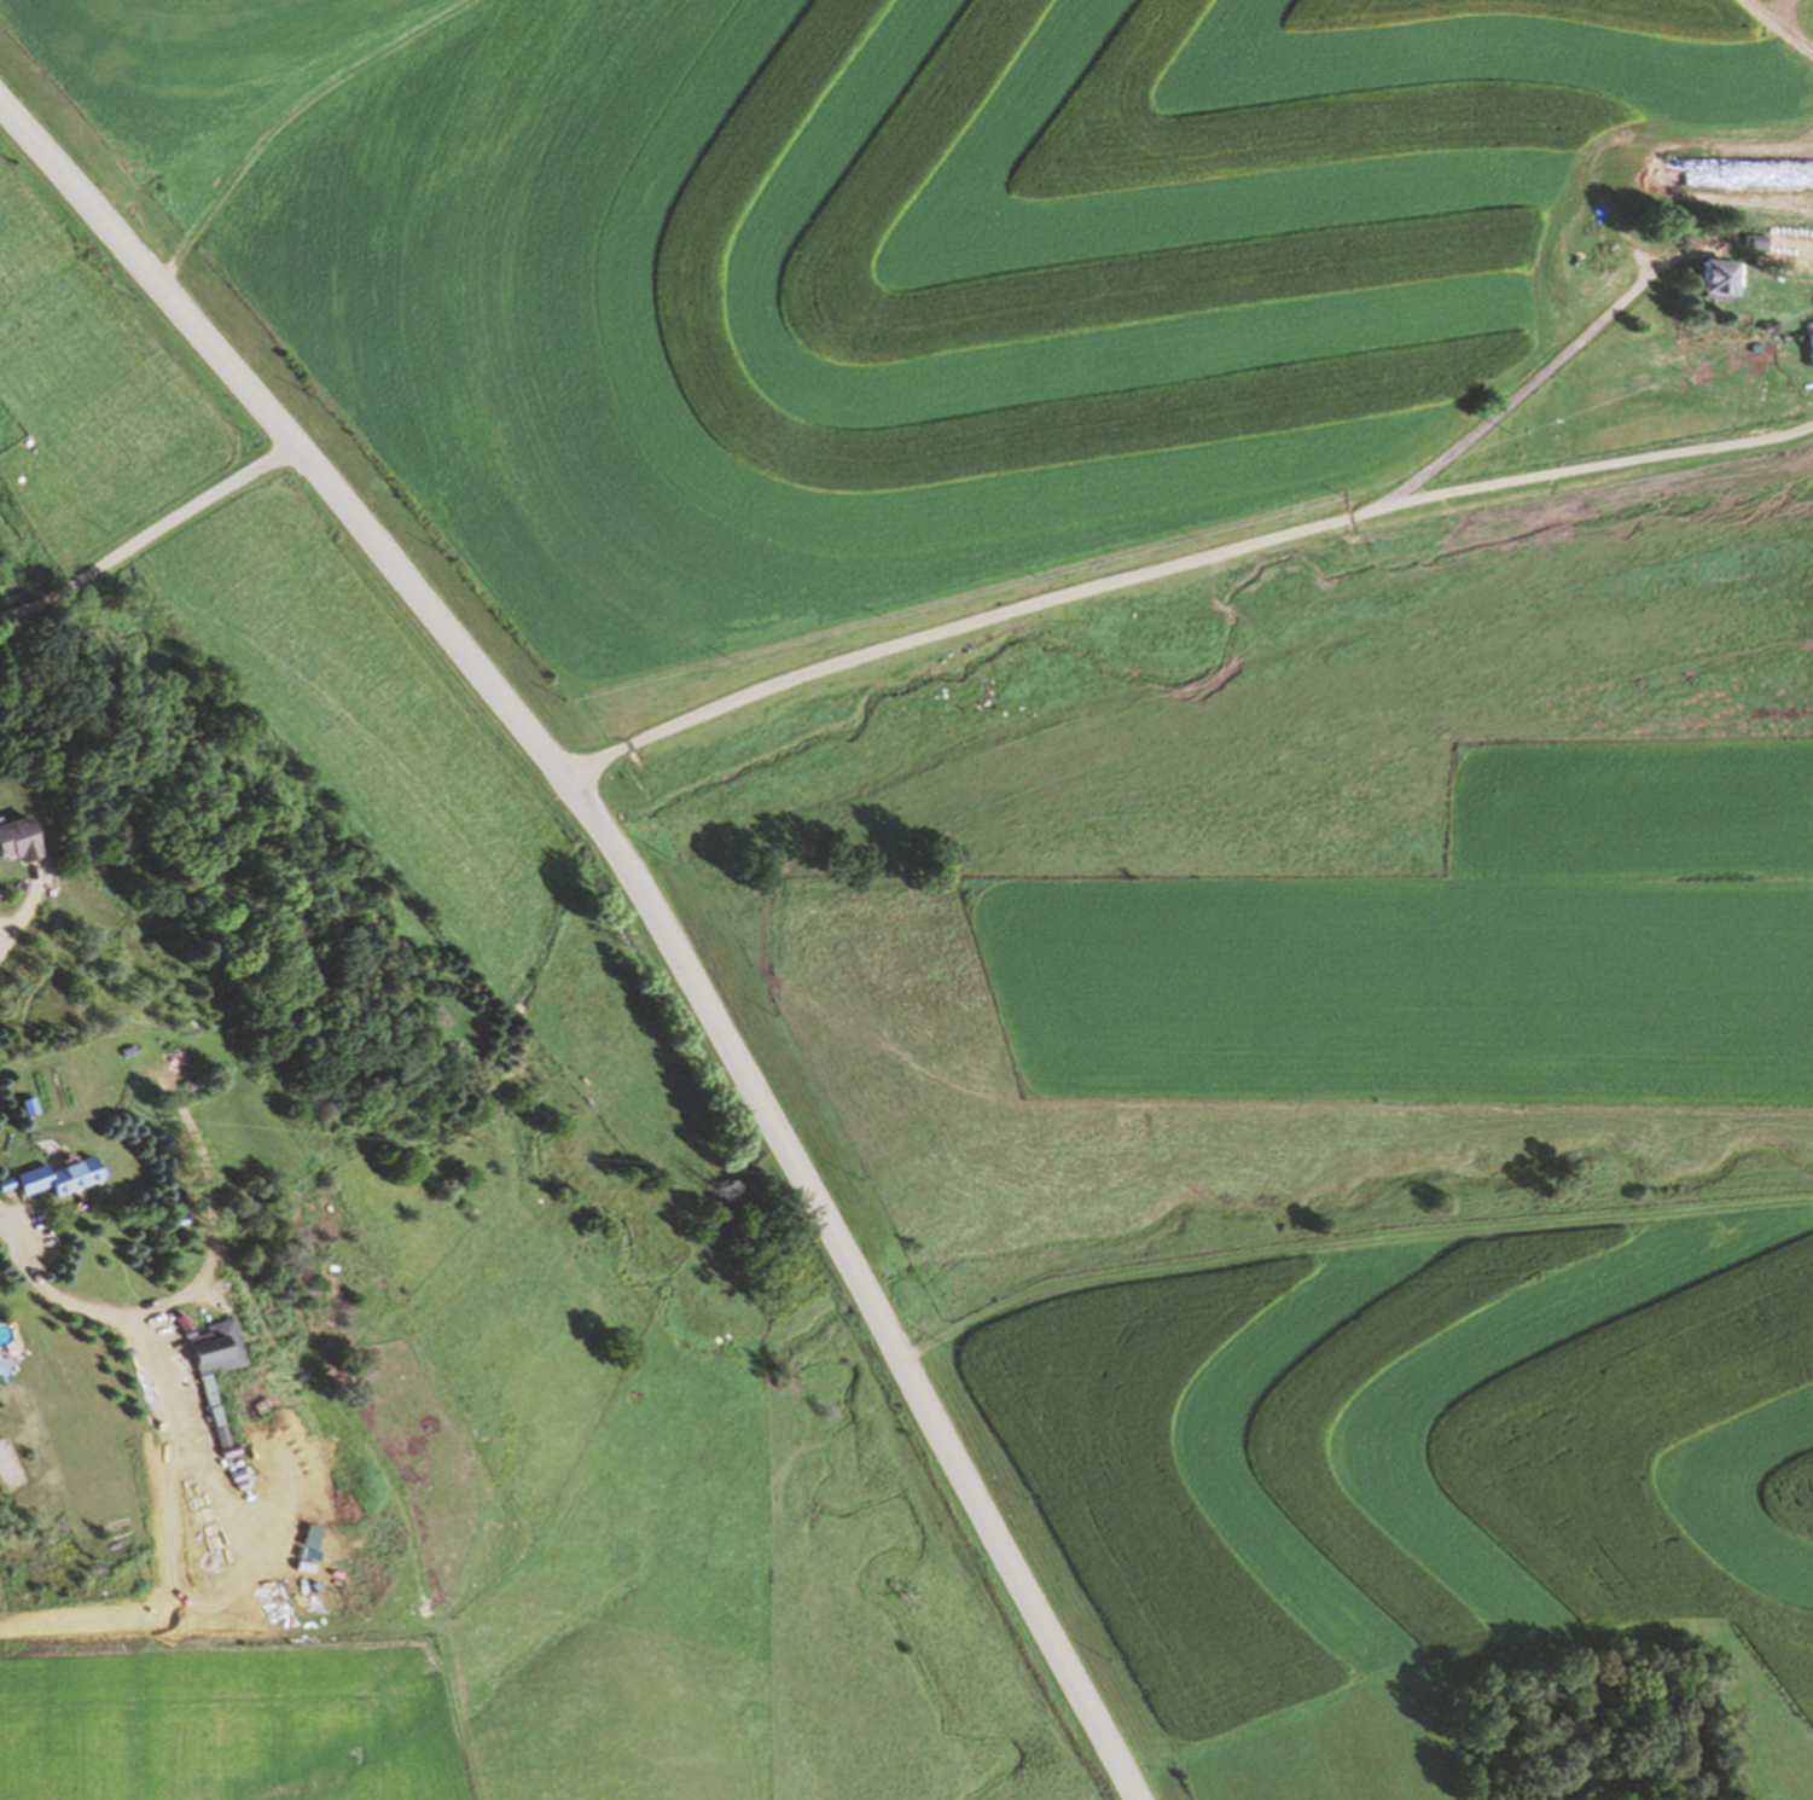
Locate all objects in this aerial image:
building: (1802, 248)
building: (1718, 278)
building: (1811, 348)
road: (1546, 362)
road: (145, 530)
road: (1176, 564)
building: (21, 838)
road: (641, 899)
road: (25, 908)
building: (62, 1175)
road: (4, 1203)
road: (1, 1207)
road: (43, 1265)
road: (122, 1318)
building: (219, 1345)
road: (207, 1538)
road: (155, 1638)

